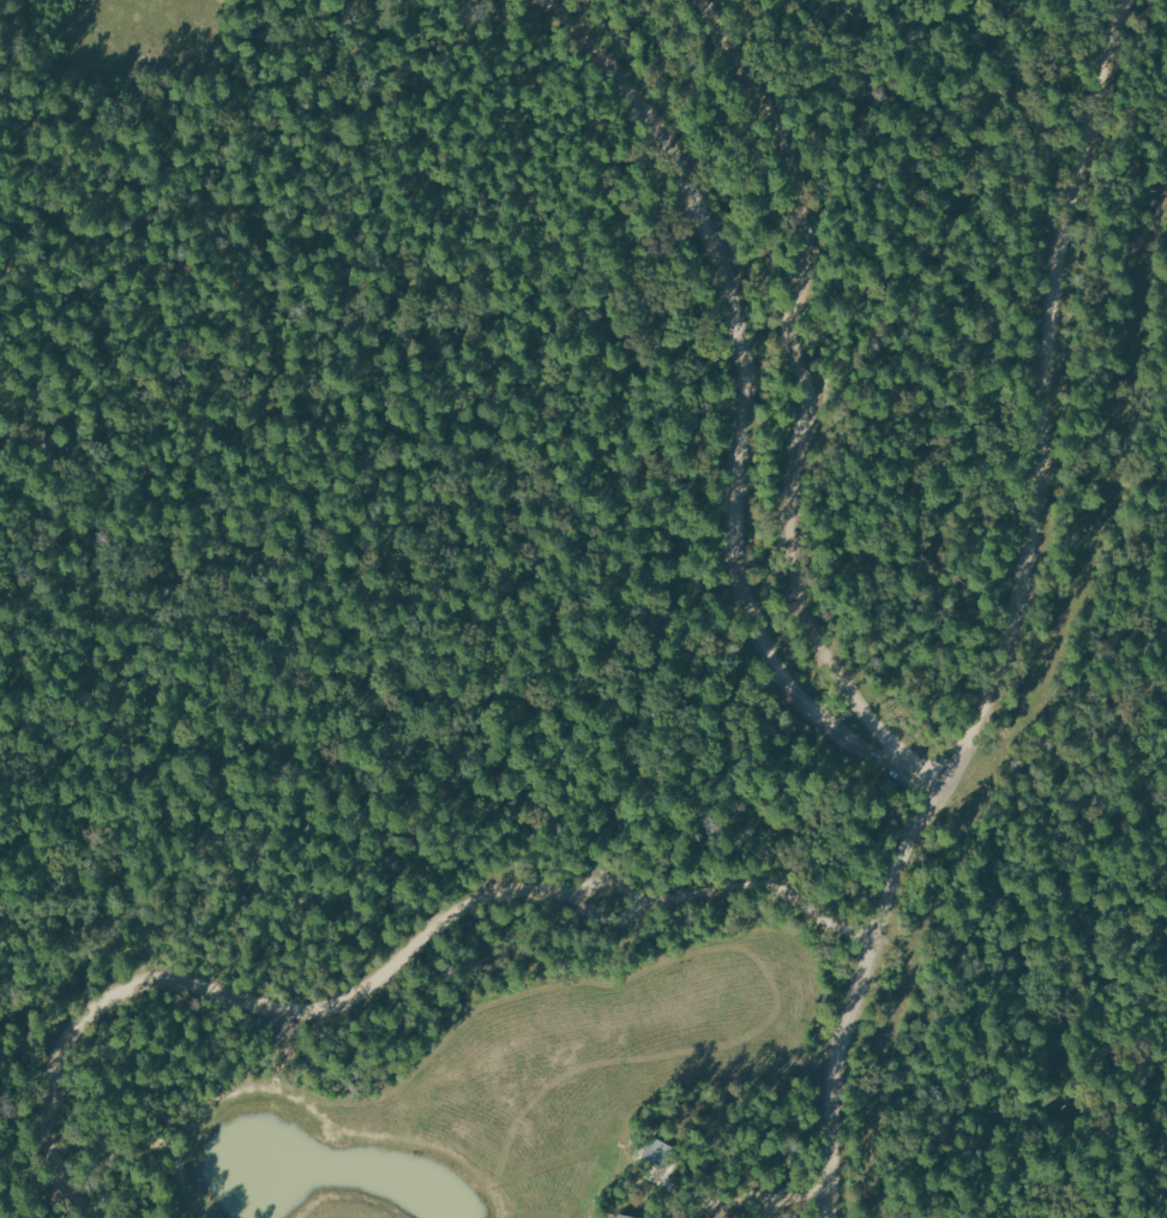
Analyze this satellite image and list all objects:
road: (108, 167)
road: (806, 383)
road: (746, 389)
road: (481, 439)
road: (1015, 619)
road: (922, 774)
road: (759, 886)
road: (585, 899)
road: (233, 995)
building: (625, 1216)

